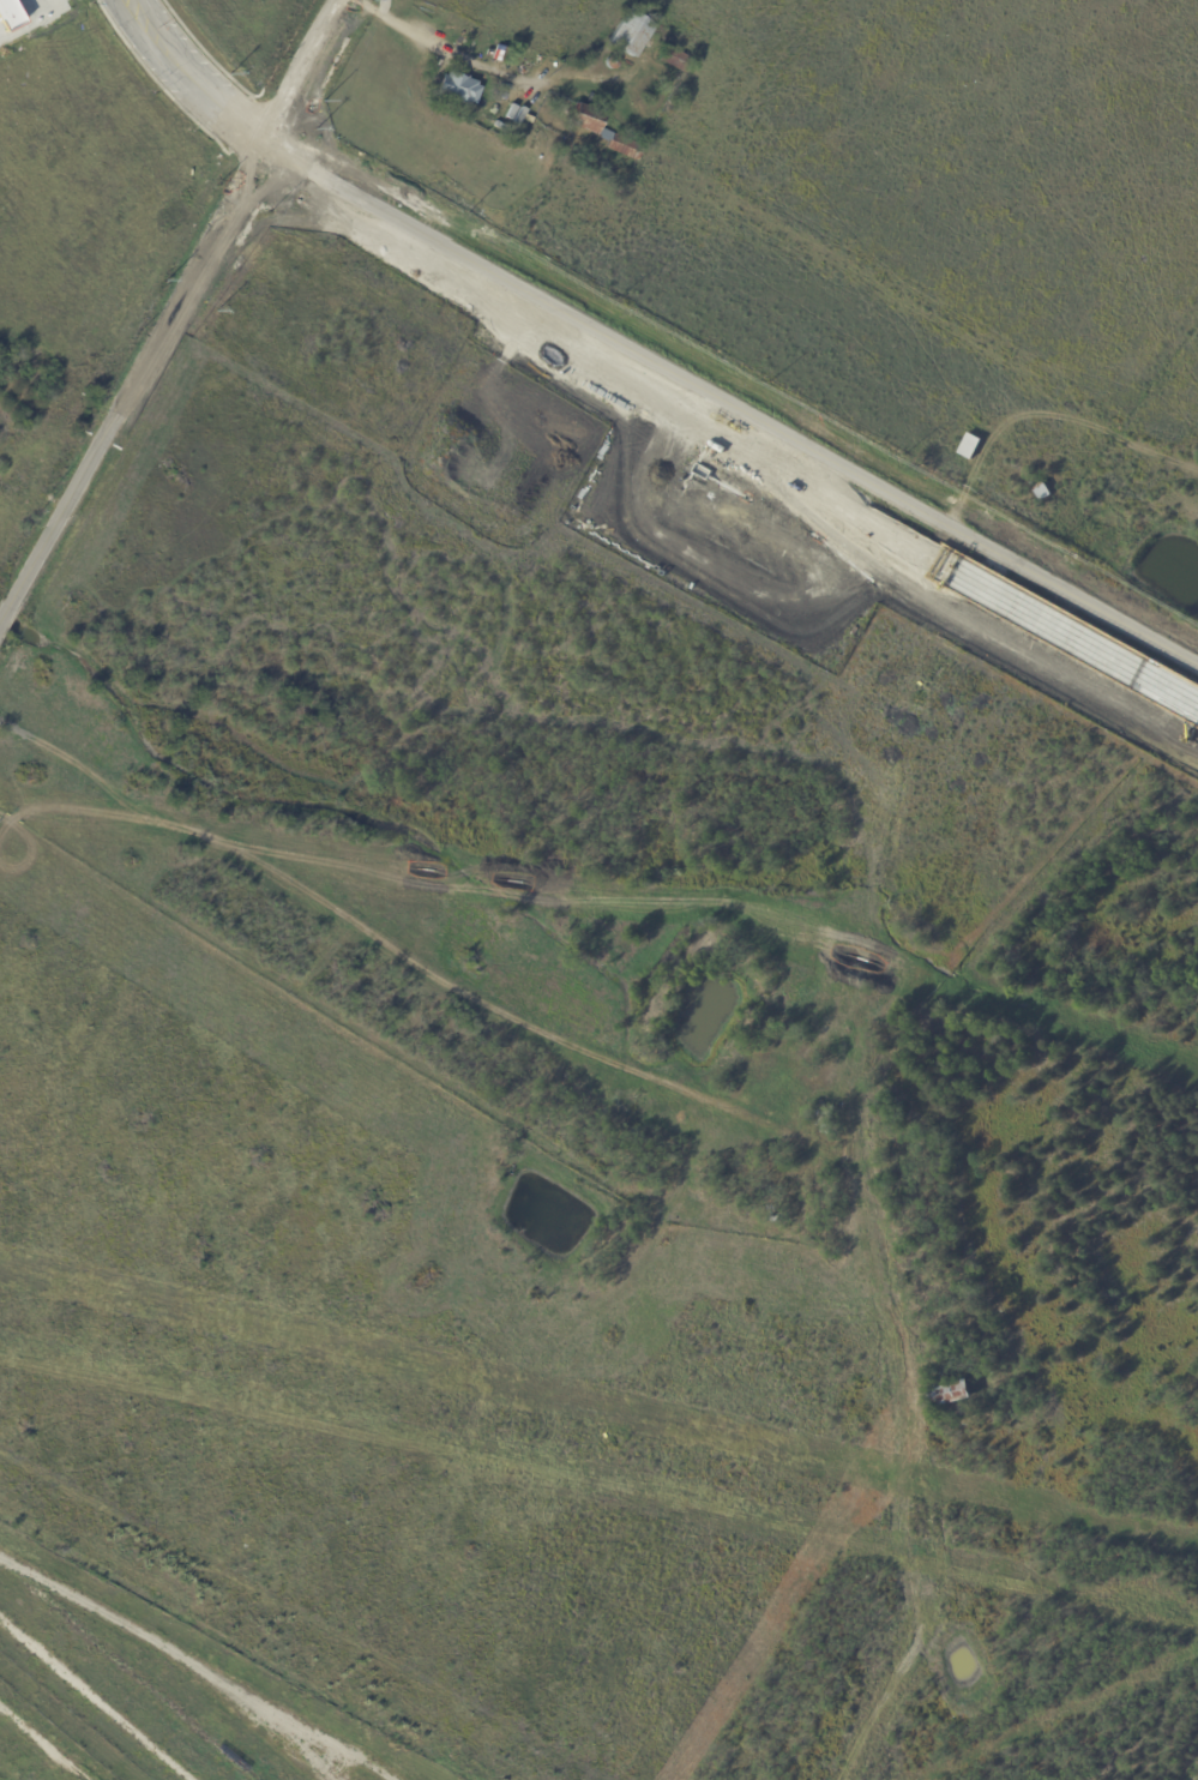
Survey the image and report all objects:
building: (627, 34)
building: (516, 50)
road: (447, 53)
building: (498, 54)
building: (672, 59)
road: (299, 71)
road: (199, 73)
road: (177, 83)
building: (456, 90)
building: (498, 126)
building: (603, 133)
road: (137, 371)
road: (729, 404)
building: (1046, 498)
road: (5, 607)
building: (827, 1114)
building: (826, 1130)
building: (771, 1229)
building: (951, 1395)

